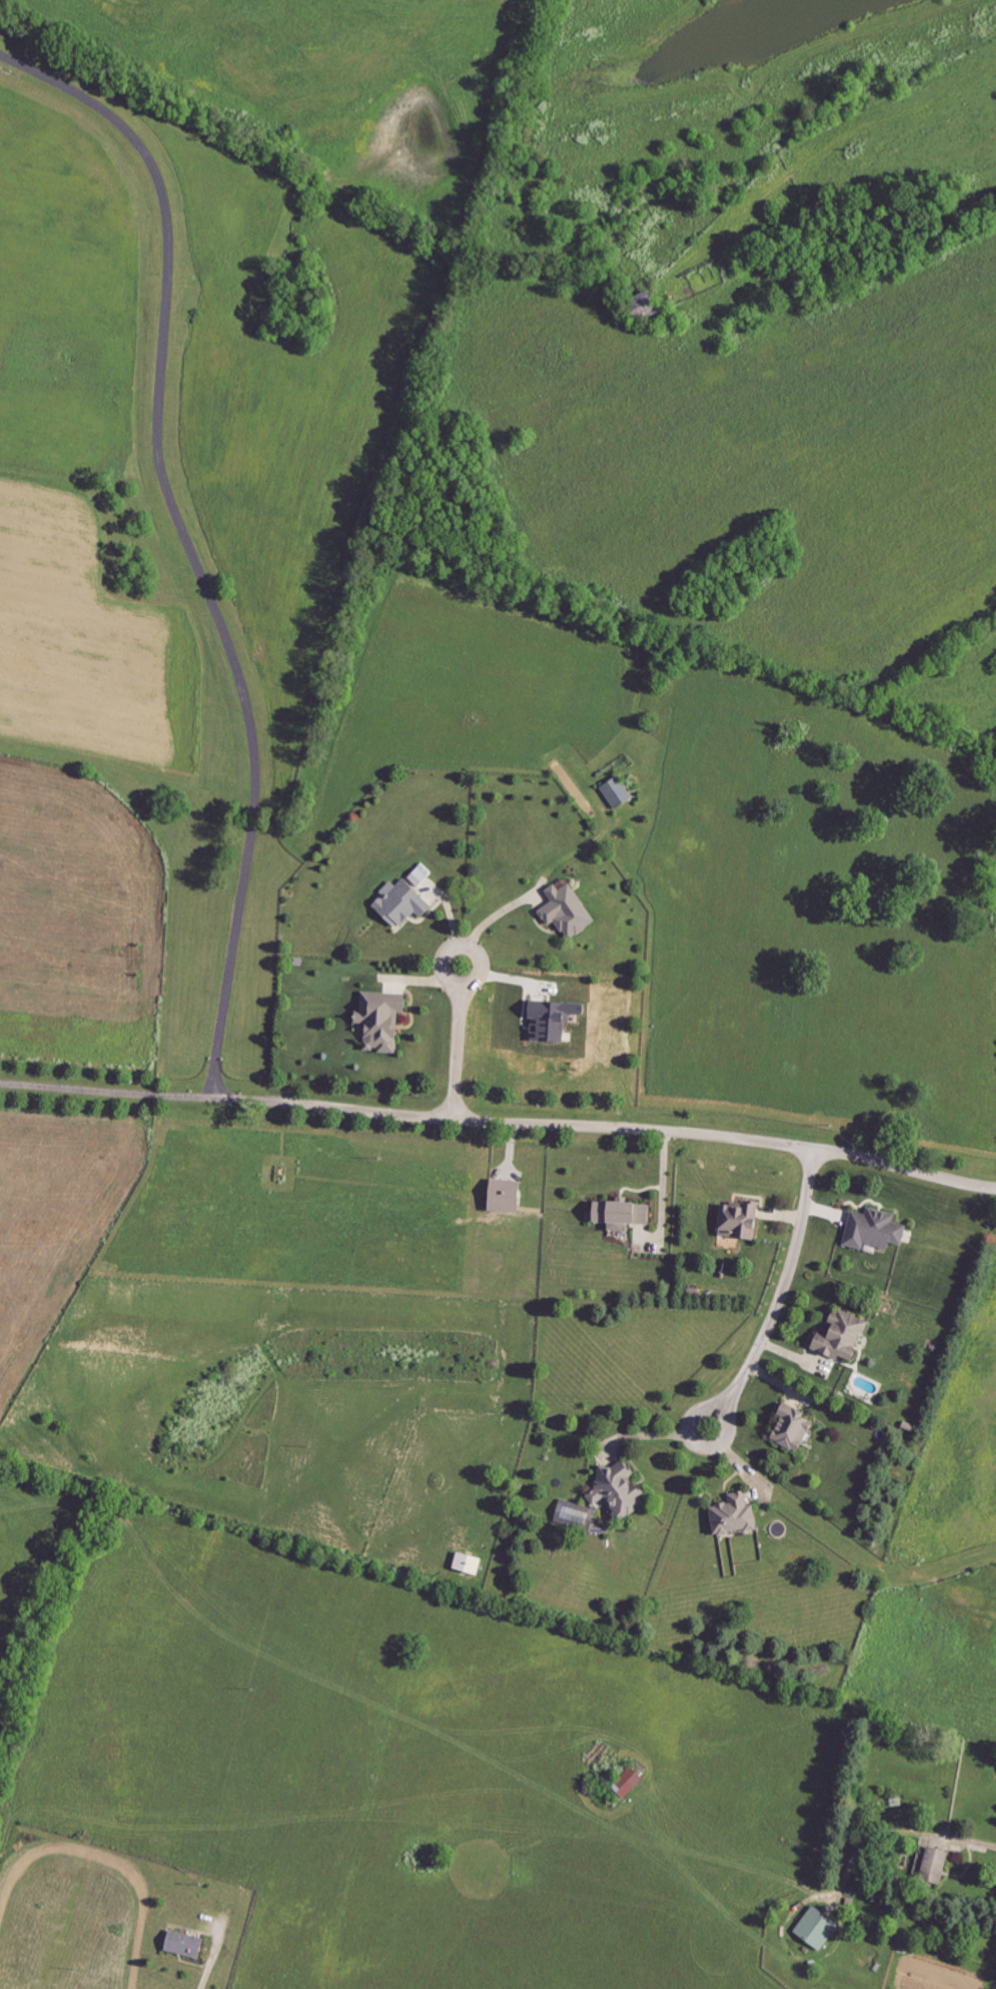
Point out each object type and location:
road: (185, 537)
building: (620, 794)
building: (422, 878)
building: (405, 903)
building: (572, 911)
road: (489, 920)
building: (387, 1020)
road: (457, 1043)
road: (500, 1123)
building: (511, 1196)
building: (627, 1214)
building: (743, 1221)
building: (880, 1230)
road: (780, 1296)
building: (846, 1337)
building: (799, 1428)
road: (658, 1435)
building: (623, 1490)
building: (739, 1516)
building: (580, 1517)
building: (472, 1564)
building: (632, 1783)
road: (898, 1833)
building: (940, 1866)
building: (820, 1929)
building: (190, 1945)
road: (213, 1958)

